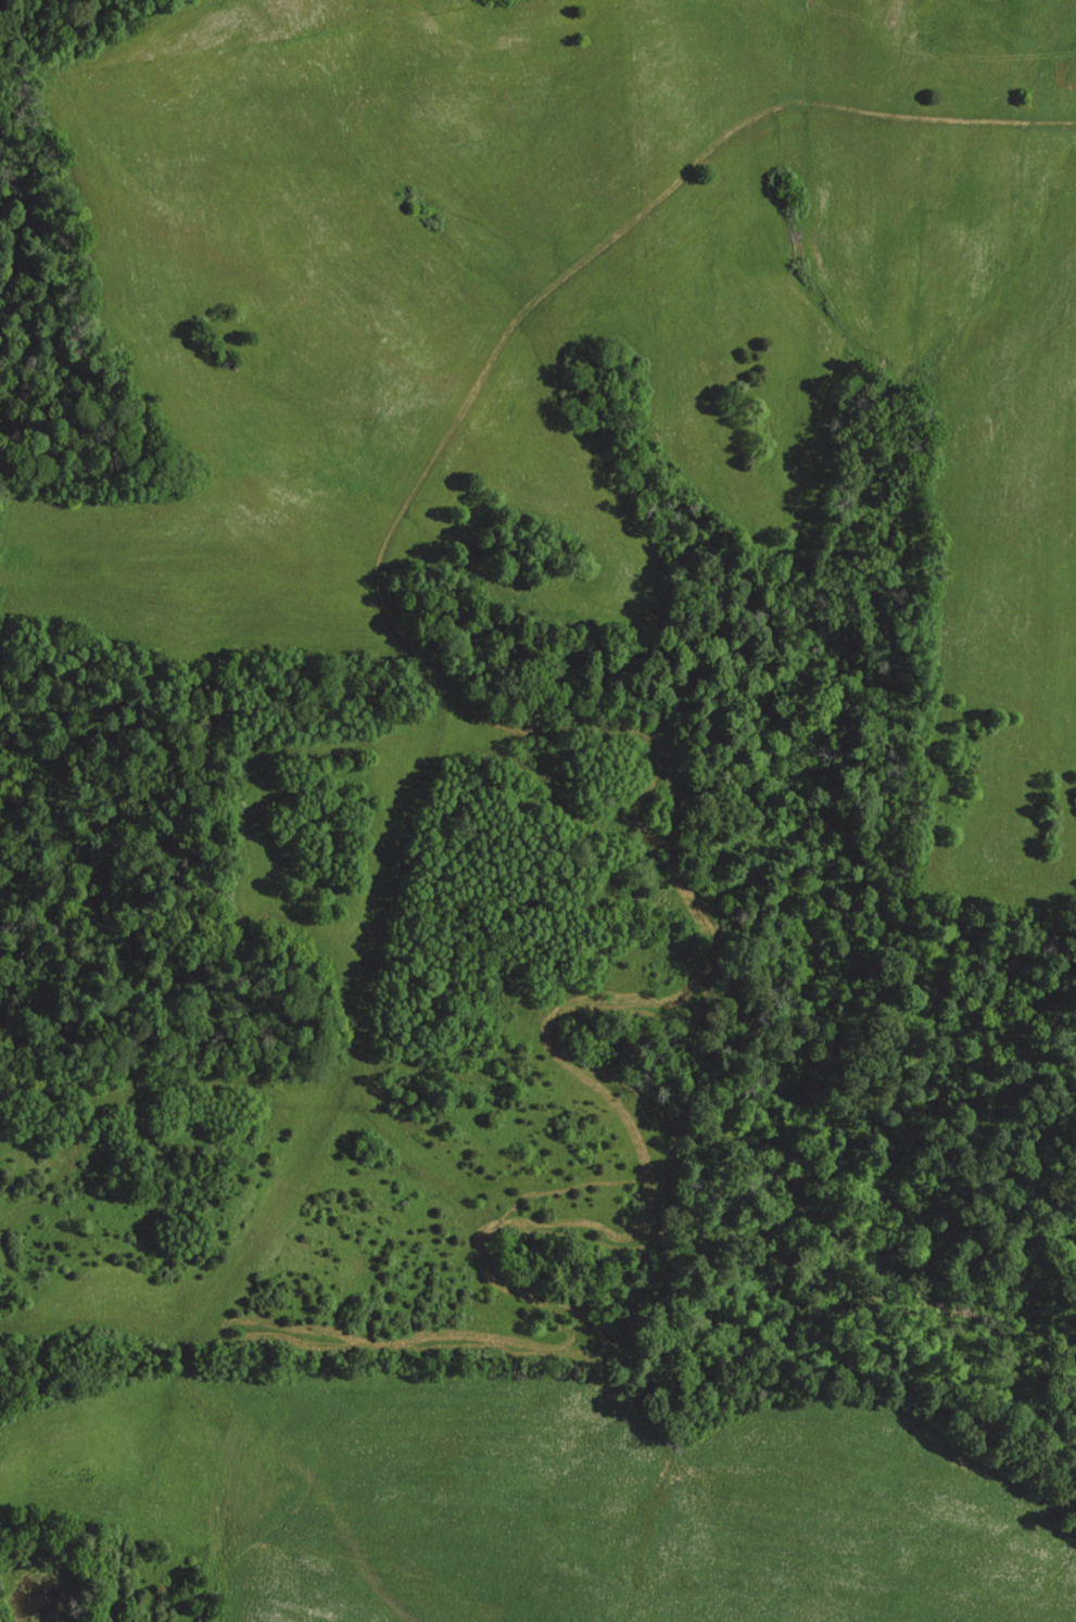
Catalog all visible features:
road: (440, 712)

